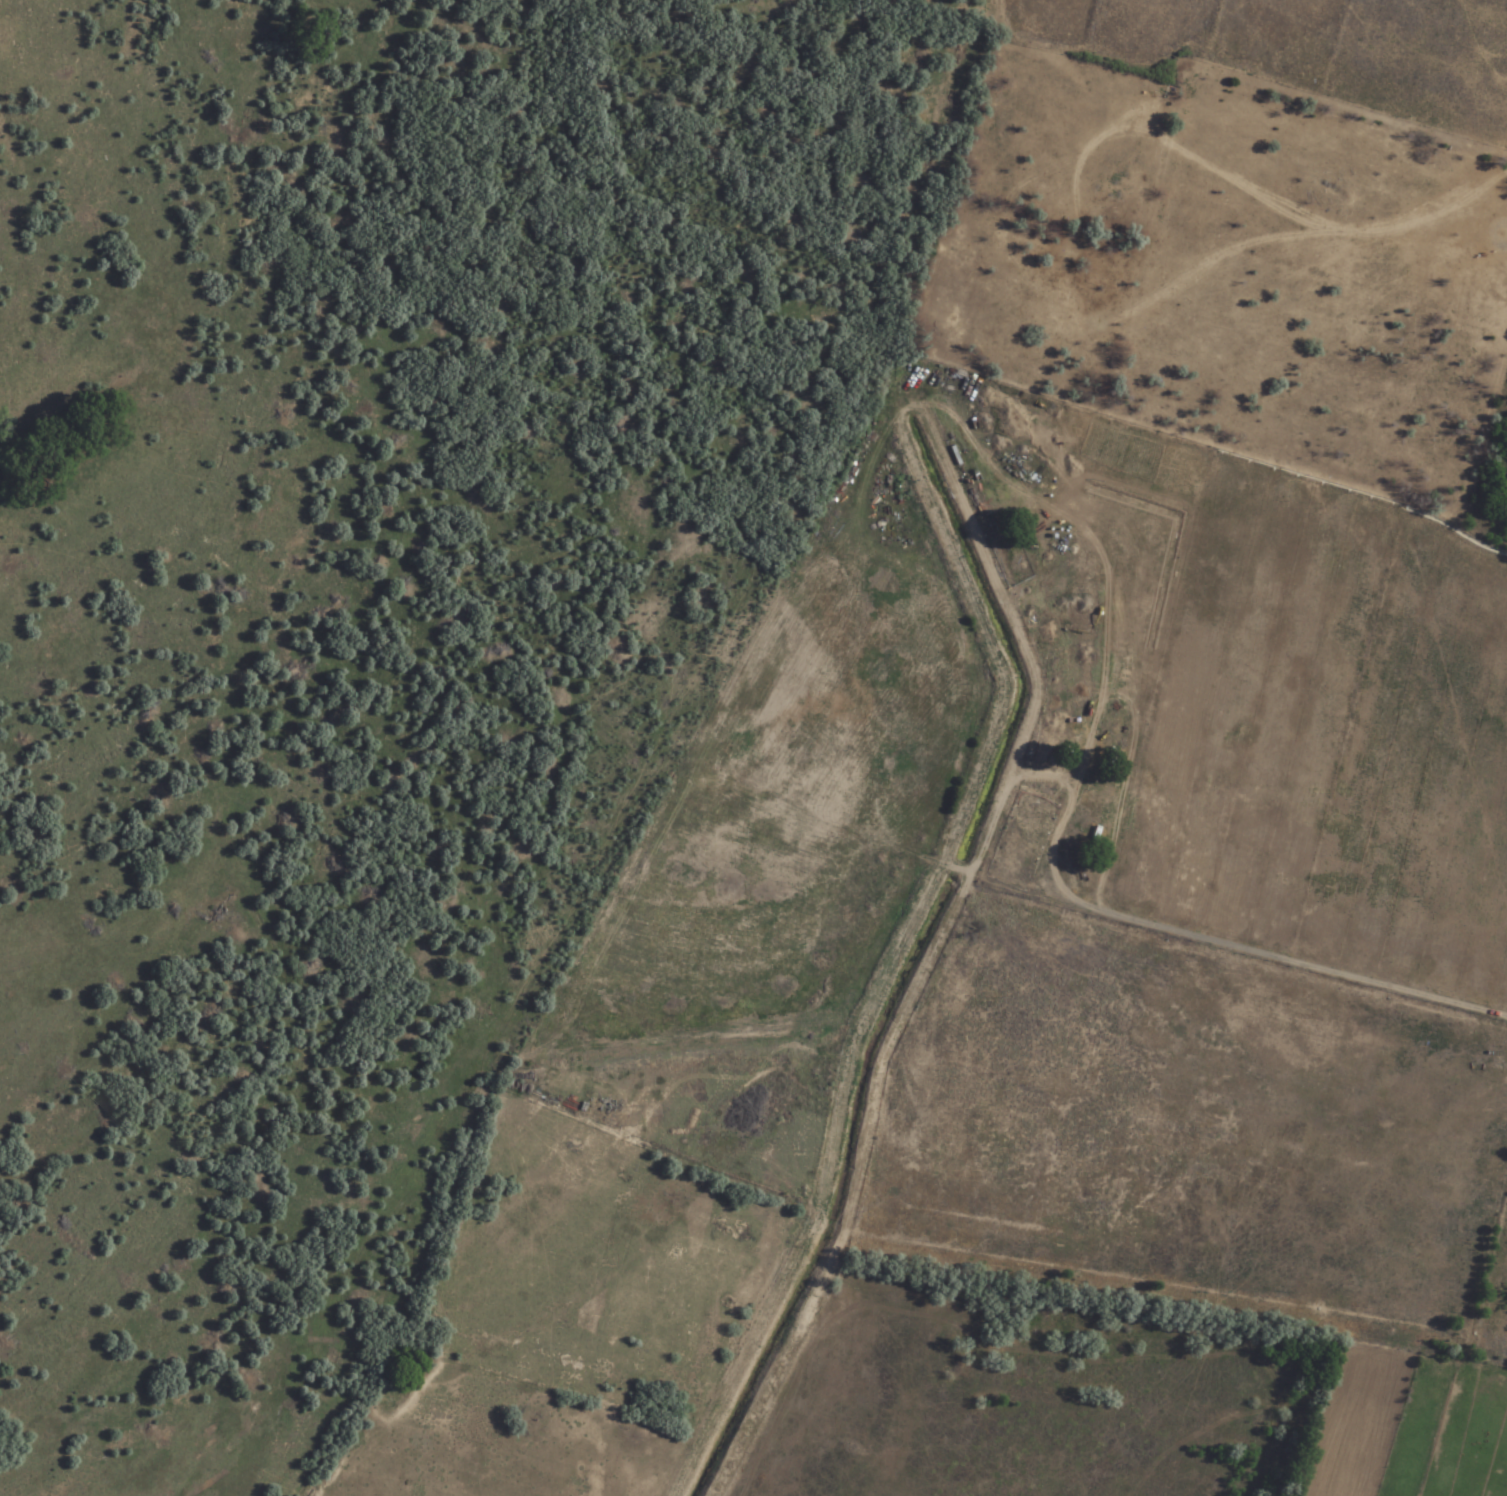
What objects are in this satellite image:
road: (775, 1223)
road: (734, 1245)
road: (938, 1373)
road: (80, 1419)

